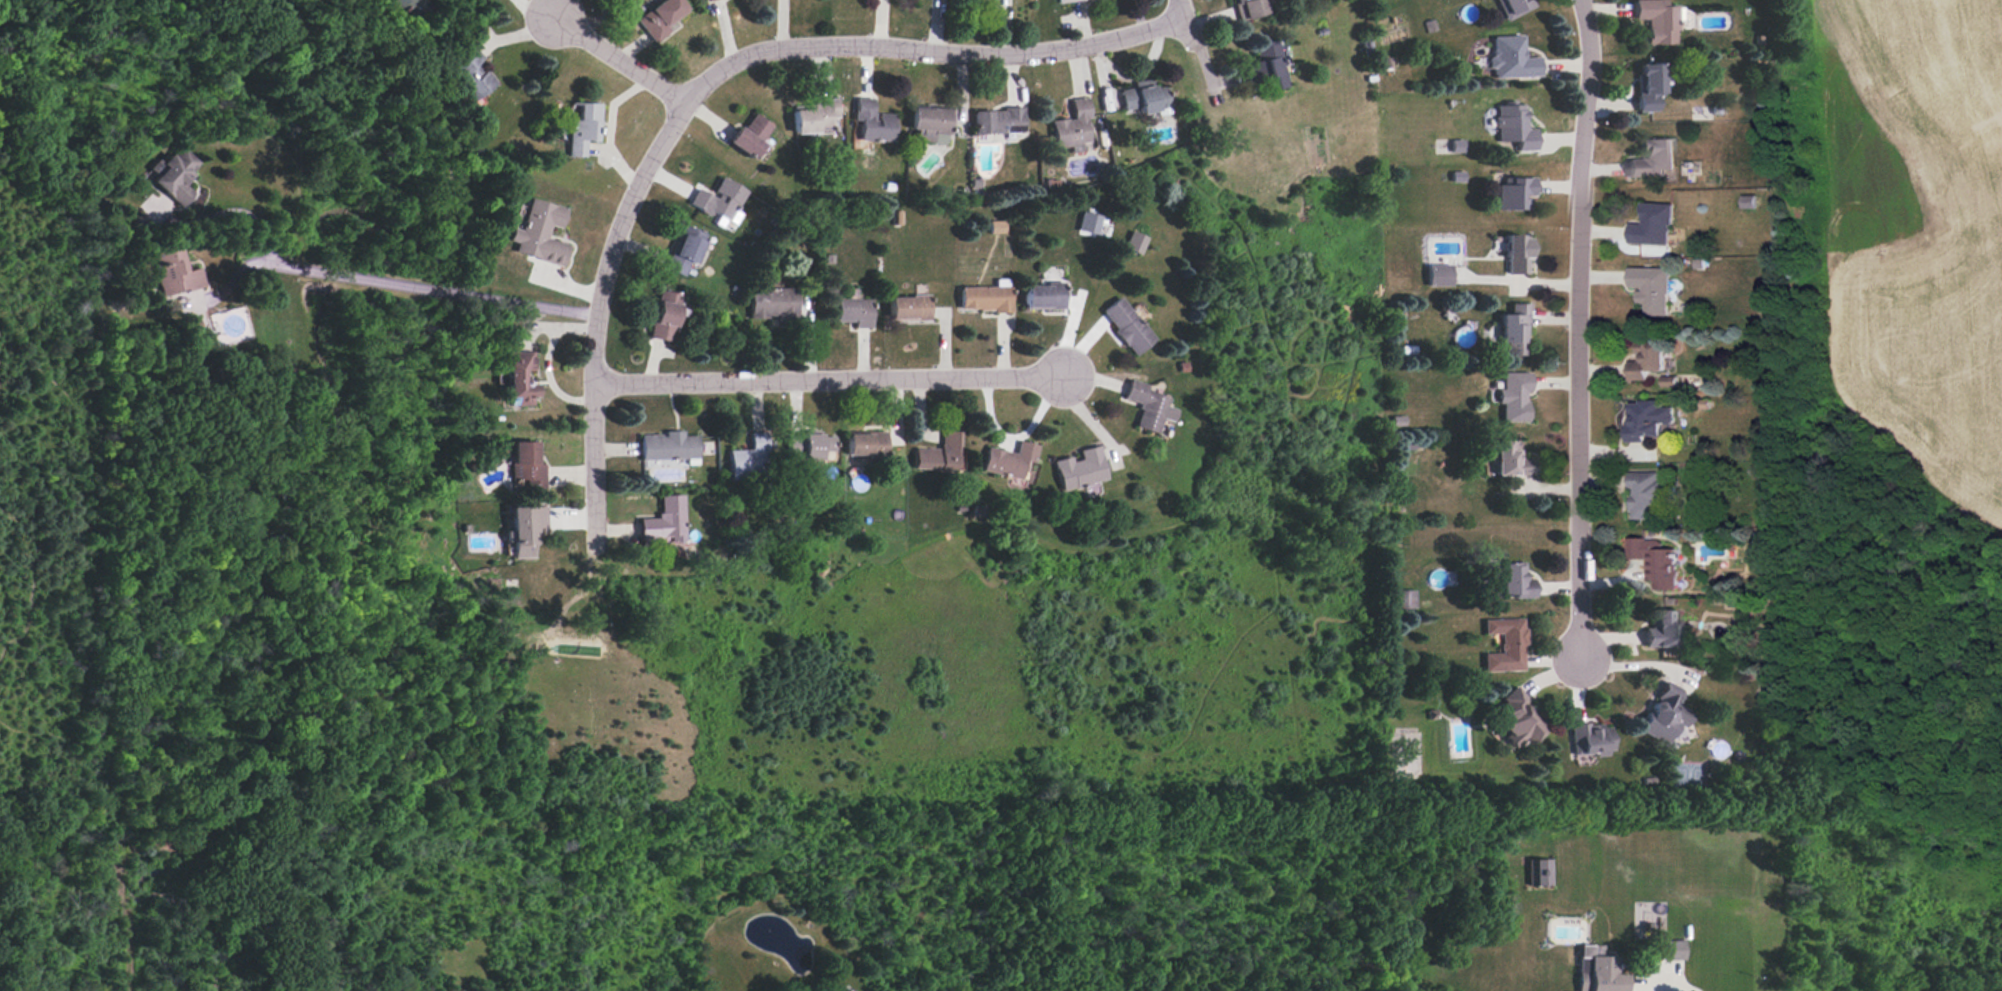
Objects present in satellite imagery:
building: (709, 0)
building: (702, 1)
building: (1069, 2)
building: (1511, 5)
building: (403, 8)
road: (532, 9)
road: (1180, 9)
building: (1247, 10)
building: (652, 13)
building: (1653, 22)
road: (1004, 27)
building: (1508, 55)
road: (618, 59)
building: (1259, 63)
building: (462, 69)
building: (1644, 82)
building: (1140, 89)
road: (681, 108)
building: (807, 113)
building: (992, 117)
building: (866, 120)
building: (925, 120)
building: (1072, 120)
building: (1508, 122)
building: (577, 123)
building: (746, 133)
building: (1649, 154)
building: (170, 176)
building: (1510, 186)
building: (711, 194)
road: (236, 211)
building: (1647, 221)
building: (538, 223)
building: (1089, 224)
building: (997, 226)
crop: (1915, 237)
building: (1136, 243)
building: (685, 246)
building: (1515, 248)
building: (1434, 269)
building: (172, 273)
road: (387, 283)
building: (1648, 289)
building: (1043, 296)
building: (984, 298)
building: (771, 305)
building: (907, 308)
building: (851, 313)
building: (664, 315)
building: (1507, 325)
building: (1126, 326)
road: (1575, 333)
building: (1644, 361)
building: (518, 381)
road: (828, 381)
building: (1510, 393)
building: (1148, 407)
building: (1646, 414)
building: (807, 445)
building: (864, 445)
building: (667, 451)
building: (936, 455)
building: (1505, 460)
building: (748, 461)
building: (1009, 461)
building: (526, 467)
building: (1077, 471)
building: (1643, 496)
building: (660, 525)
building: (524, 529)
building: (1651, 562)
building: (1499, 576)
building: (1404, 599)
building: (1659, 630)
building: (1500, 643)
building: (1659, 713)
building: (1507, 716)
building: (1584, 736)
building: (1539, 872)
building: (1672, 950)
building: (1598, 972)
road: (1670, 983)
road: (1666, 986)

